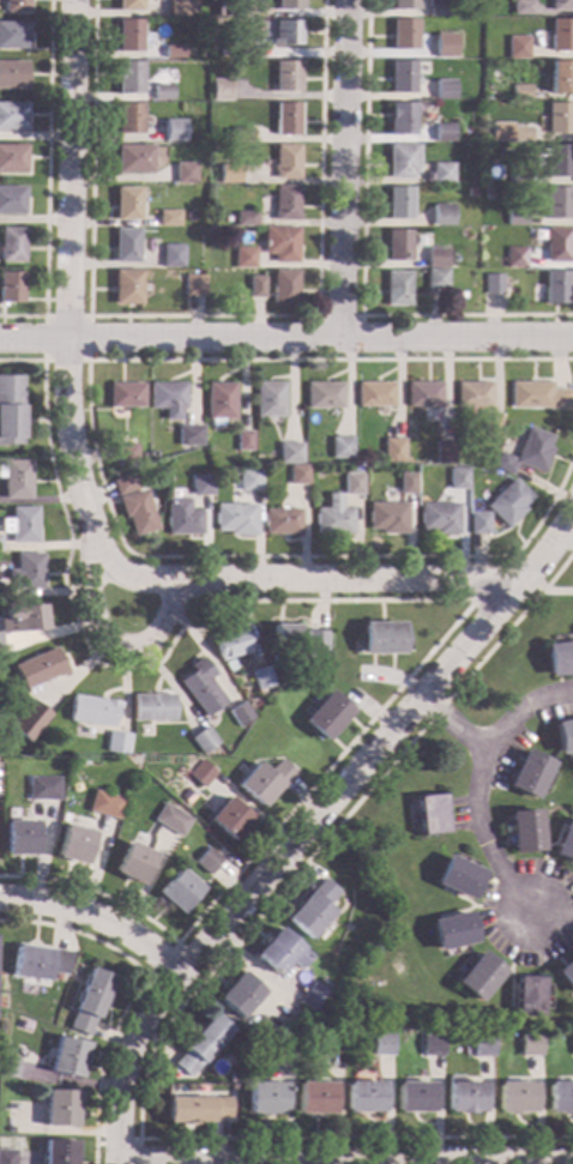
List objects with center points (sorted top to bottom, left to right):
building: (129, 5)
building: (289, 5)
building: (404, 5)
building: (16, 6)
building: (562, 6)
building: (181, 7)
building: (521, 7)
building: (234, 8)
building: (435, 8)
building: (288, 34)
building: (403, 35)
building: (13, 36)
building: (129, 36)
building: (561, 36)
building: (442, 44)
building: (240, 47)
building: (517, 48)
building: (432, 52)
building: (174, 53)
building: (223, 54)
building: (12, 76)
building: (286, 77)
building: (128, 78)
building: (402, 78)
building: (561, 78)
building: (444, 90)
building: (221, 91)
building: (162, 92)
building: (520, 94)
building: (13, 117)
building: (128, 119)
building: (560, 119)
building: (286, 120)
building: (402, 120)
building: (173, 131)
building: (442, 133)
building: (242, 134)
building: (520, 134)
building: (12, 159)
building: (133, 159)
building: (403, 161)
building: (286, 162)
building: (560, 162)
road: (345, 168)
building: (183, 174)
building: (442, 174)
building: (229, 175)
building: (519, 176)
road: (47, 180)
building: (471, 193)
building: (489, 194)
building: (12, 201)
building: (126, 204)
building: (286, 204)
building: (399, 204)
building: (559, 204)
building: (442, 216)
building: (515, 217)
building: (168, 219)
building: (245, 219)
building: (281, 243)
building: (12, 245)
building: (125, 246)
building: (399, 246)
building: (559, 246)
building: (171, 257)
building: (245, 258)
building: (436, 258)
building: (517, 258)
road: (362, 263)
building: (436, 279)
building: (494, 284)
building: (193, 285)
building: (11, 288)
building: (127, 288)
building: (255, 288)
building: (285, 288)
building: (557, 288)
building: (397, 289)
road: (68, 296)
road: (203, 315)
road: (319, 315)
road: (285, 338)
road: (44, 361)
building: (423, 394)
building: (474, 394)
building: (126, 396)
building: (324, 396)
building: (375, 396)
building: (538, 397)
building: (169, 399)
building: (270, 400)
building: (221, 403)
building: (11, 411)
building: (493, 428)
building: (191, 435)
building: (245, 441)
building: (340, 448)
building: (393, 451)
building: (535, 451)
building: (290, 453)
building: (444, 453)
building: (127, 454)
building: (153, 454)
building: (506, 464)
road: (98, 465)
building: (298, 476)
building: (17, 480)
building: (251, 480)
building: (458, 480)
building: (125, 484)
building: (352, 484)
building: (408, 484)
building: (203, 489)
building: (508, 503)
building: (138, 513)
building: (183, 518)
building: (387, 518)
building: (439, 518)
building: (236, 519)
building: (333, 521)
building: (282, 523)
building: (23, 524)
building: (478, 524)
building: (0, 543)
building: (29, 572)
road: (325, 579)
building: (1, 589)
road: (478, 595)
road: (414, 601)
road: (497, 608)
building: (23, 620)
building: (381, 638)
road: (111, 640)
building: (283, 640)
building: (315, 643)
building: (0, 644)
building: (228, 644)
building: (559, 659)
building: (40, 668)
building: (259, 677)
building: (199, 688)
building: (150, 708)
building: (91, 711)
building: (239, 714)
building: (326, 717)
building: (26, 722)
road: (452, 724)
building: (563, 737)
building: (201, 741)
building: (115, 743)
building: (199, 774)
building: (530, 774)
building: (265, 782)
building: (41, 789)
building: (186, 797)
building: (103, 806)
road: (475, 806)
building: (430, 815)
building: (169, 820)
building: (229, 820)
building: (524, 832)
road: (302, 836)
building: (183, 837)
building: (18, 838)
building: (565, 843)
building: (72, 845)
building: (206, 861)
building: (132, 863)
building: (457, 877)
building: (177, 892)
building: (313, 909)
road: (99, 919)
building: (451, 931)
building: (281, 953)
building: (36, 963)
building: (567, 973)
building: (479, 977)
road: (134, 991)
building: (530, 996)
road: (186, 997)
building: (239, 997)
building: (313, 999)
building: (86, 1002)
building: (572, 1045)
building: (530, 1047)
building: (199, 1048)
building: (331, 1048)
building: (381, 1048)
building: (430, 1048)
building: (481, 1049)
building: (2, 1050)
building: (282, 1053)
building: (65, 1057)
road: (125, 1059)
building: (7, 1067)
building: (561, 1097)
building: (363, 1098)
building: (314, 1099)
building: (414, 1099)
building: (465, 1099)
building: (515, 1099)
building: (264, 1100)
building: (56, 1109)
building: (197, 1112)
road: (127, 1139)
building: (56, 1152)
building: (6, 1157)
road: (344, 1163)

